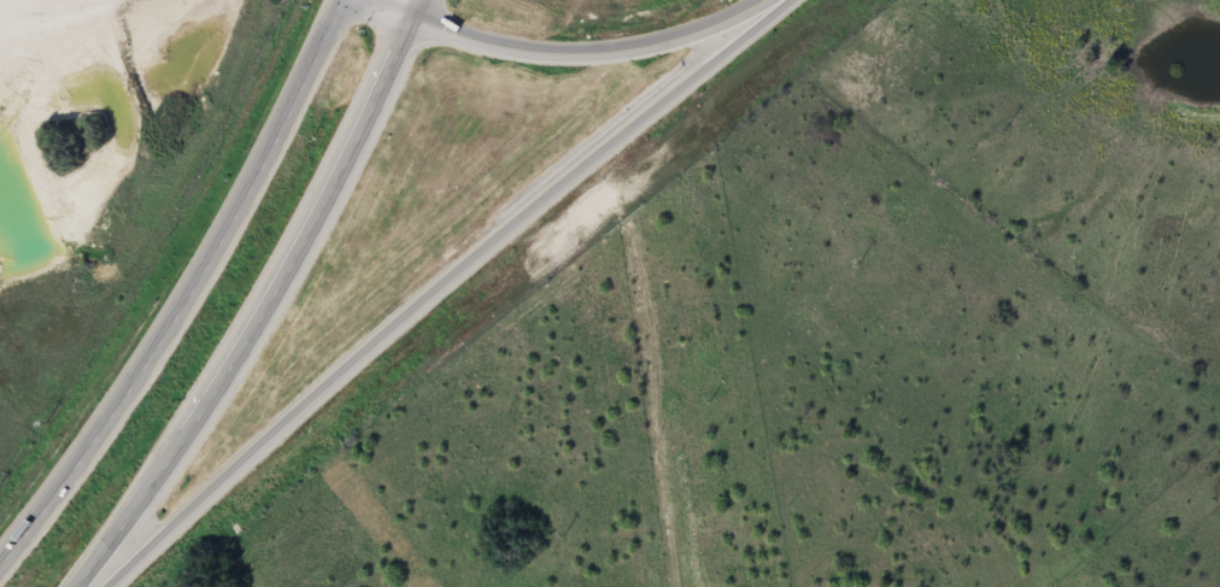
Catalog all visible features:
road: (571, 53)
road: (432, 292)
road: (194, 299)
road: (272, 305)
road: (646, 364)

